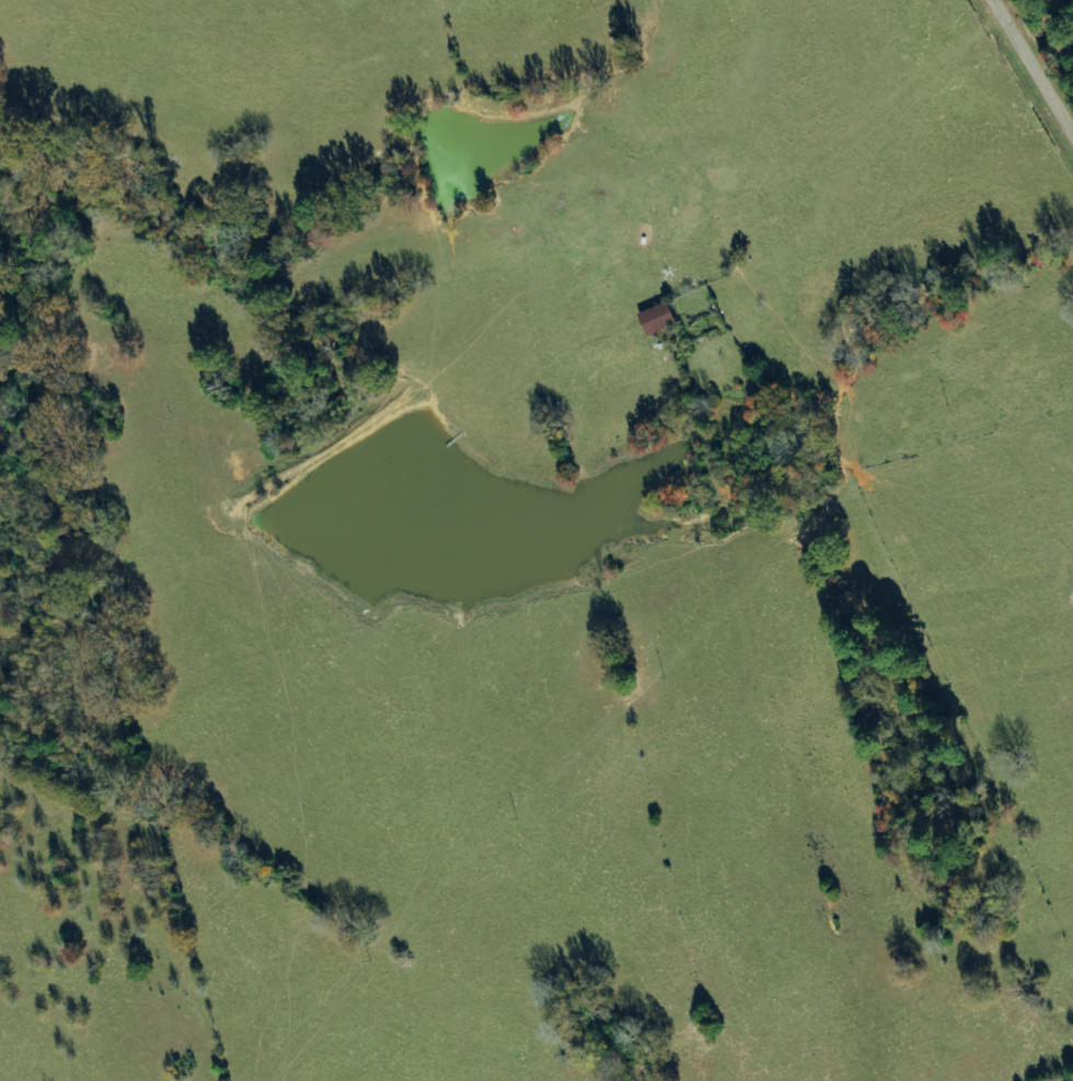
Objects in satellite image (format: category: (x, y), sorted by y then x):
road: (1032, 67)
building: (660, 319)

